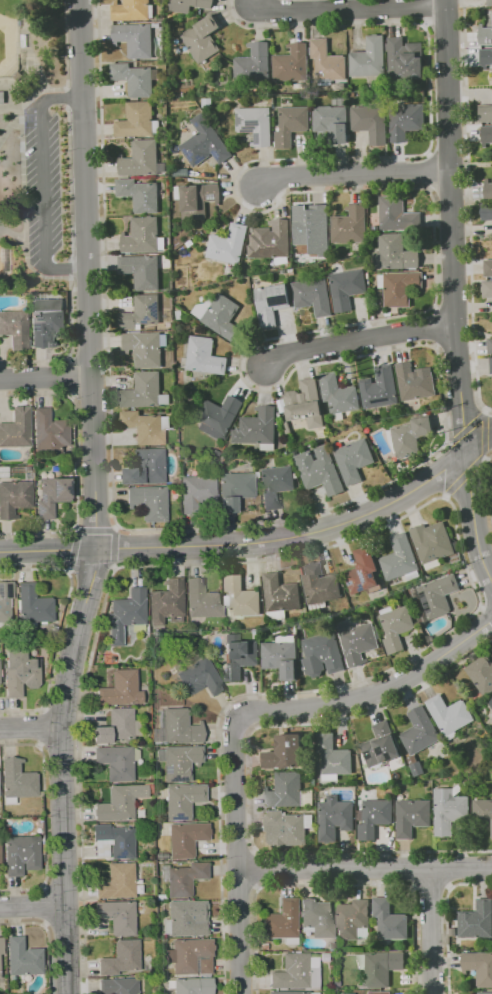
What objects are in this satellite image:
building: (491, 2)
building: (189, 5)
road: (349, 7)
building: (132, 10)
building: (485, 35)
building: (200, 38)
building: (134, 39)
park: (9, 46)
building: (487, 56)
building: (369, 58)
building: (405, 59)
building: (327, 61)
road: (29, 63)
building: (254, 63)
building: (291, 63)
road: (45, 79)
building: (133, 79)
road: (35, 93)
road: (12, 96)
building: (207, 102)
road: (17, 111)
building: (485, 113)
building: (136, 120)
building: (406, 120)
building: (331, 121)
building: (371, 122)
building: (255, 124)
building: (291, 124)
building: (486, 134)
building: (204, 143)
park: (40, 147)
building: (140, 158)
building: (181, 173)
road: (355, 173)
parking lot: (44, 181)
road: (42, 184)
building: (488, 189)
building: (139, 194)
building: (197, 200)
road: (469, 208)
building: (486, 211)
building: (397, 214)
building: (350, 224)
building: (309, 225)
road: (454, 226)
road: (14, 235)
building: (141, 236)
building: (271, 239)
building: (229, 244)
building: (394, 253)
building: (162, 263)
building: (488, 268)
building: (141, 270)
building: (399, 287)
building: (347, 288)
building: (487, 288)
building: (313, 295)
building: (271, 302)
building: (141, 312)
building: (222, 316)
building: (46, 321)
building: (14, 329)
road: (361, 340)
building: (490, 345)
building: (145, 347)
building: (205, 356)
building: (165, 361)
building: (491, 364)
road: (44, 380)
building: (415, 381)
building: (380, 388)
building: (144, 391)
building: (339, 393)
building: (305, 403)
building: (218, 417)
road: (467, 425)
building: (144, 426)
building: (16, 428)
building: (258, 428)
building: (49, 432)
road: (485, 432)
building: (411, 435)
road: (478, 442)
building: (354, 459)
building: (146, 467)
road: (446, 468)
building: (320, 470)
road: (465, 476)
building: (276, 485)
road: (486, 488)
building: (234, 489)
building: (196, 491)
building: (51, 496)
building: (14, 498)
road: (94, 498)
building: (148, 502)
road: (472, 517)
building: (432, 541)
road: (243, 545)
building: (399, 558)
building: (362, 571)
building: (319, 584)
building: (280, 593)
building: (438, 595)
building: (241, 596)
building: (5, 600)
building: (202, 600)
building: (166, 603)
building: (33, 604)
building: (126, 613)
building: (240, 623)
building: (229, 624)
building: (396, 627)
building: (358, 643)
building: (322, 654)
building: (238, 658)
building: (281, 658)
building: (19, 673)
building: (482, 674)
building: (199, 677)
building: (121, 689)
road: (373, 691)
building: (490, 701)
building: (449, 713)
building: (491, 719)
building: (115, 726)
road: (31, 727)
building: (180, 727)
building: (419, 731)
building: (380, 745)
building: (286, 752)
building: (333, 755)
building: (116, 762)
building: (178, 762)
building: (417, 769)
building: (17, 780)
building: (285, 790)
building: (307, 797)
building: (182, 800)
building: (115, 805)
building: (449, 810)
building: (482, 810)
building: (412, 816)
building: (334, 817)
building: (375, 817)
building: (287, 826)
building: (185, 838)
building: (115, 840)
building: (21, 854)
road: (235, 855)
road: (364, 868)
building: (184, 878)
building: (117, 881)
road: (33, 904)
building: (117, 917)
building: (316, 917)
building: (185, 920)
building: (281, 920)
building: (353, 920)
building: (389, 920)
building: (477, 920)
road: (431, 931)
building: (1, 945)
building: (189, 956)
building: (23, 958)
building: (120, 958)
building: (479, 966)
building: (381, 967)
building: (312, 971)
building: (291, 972)
building: (117, 986)
building: (192, 986)
building: (378, 992)
building: (484, 992)
building: (290, 993)

